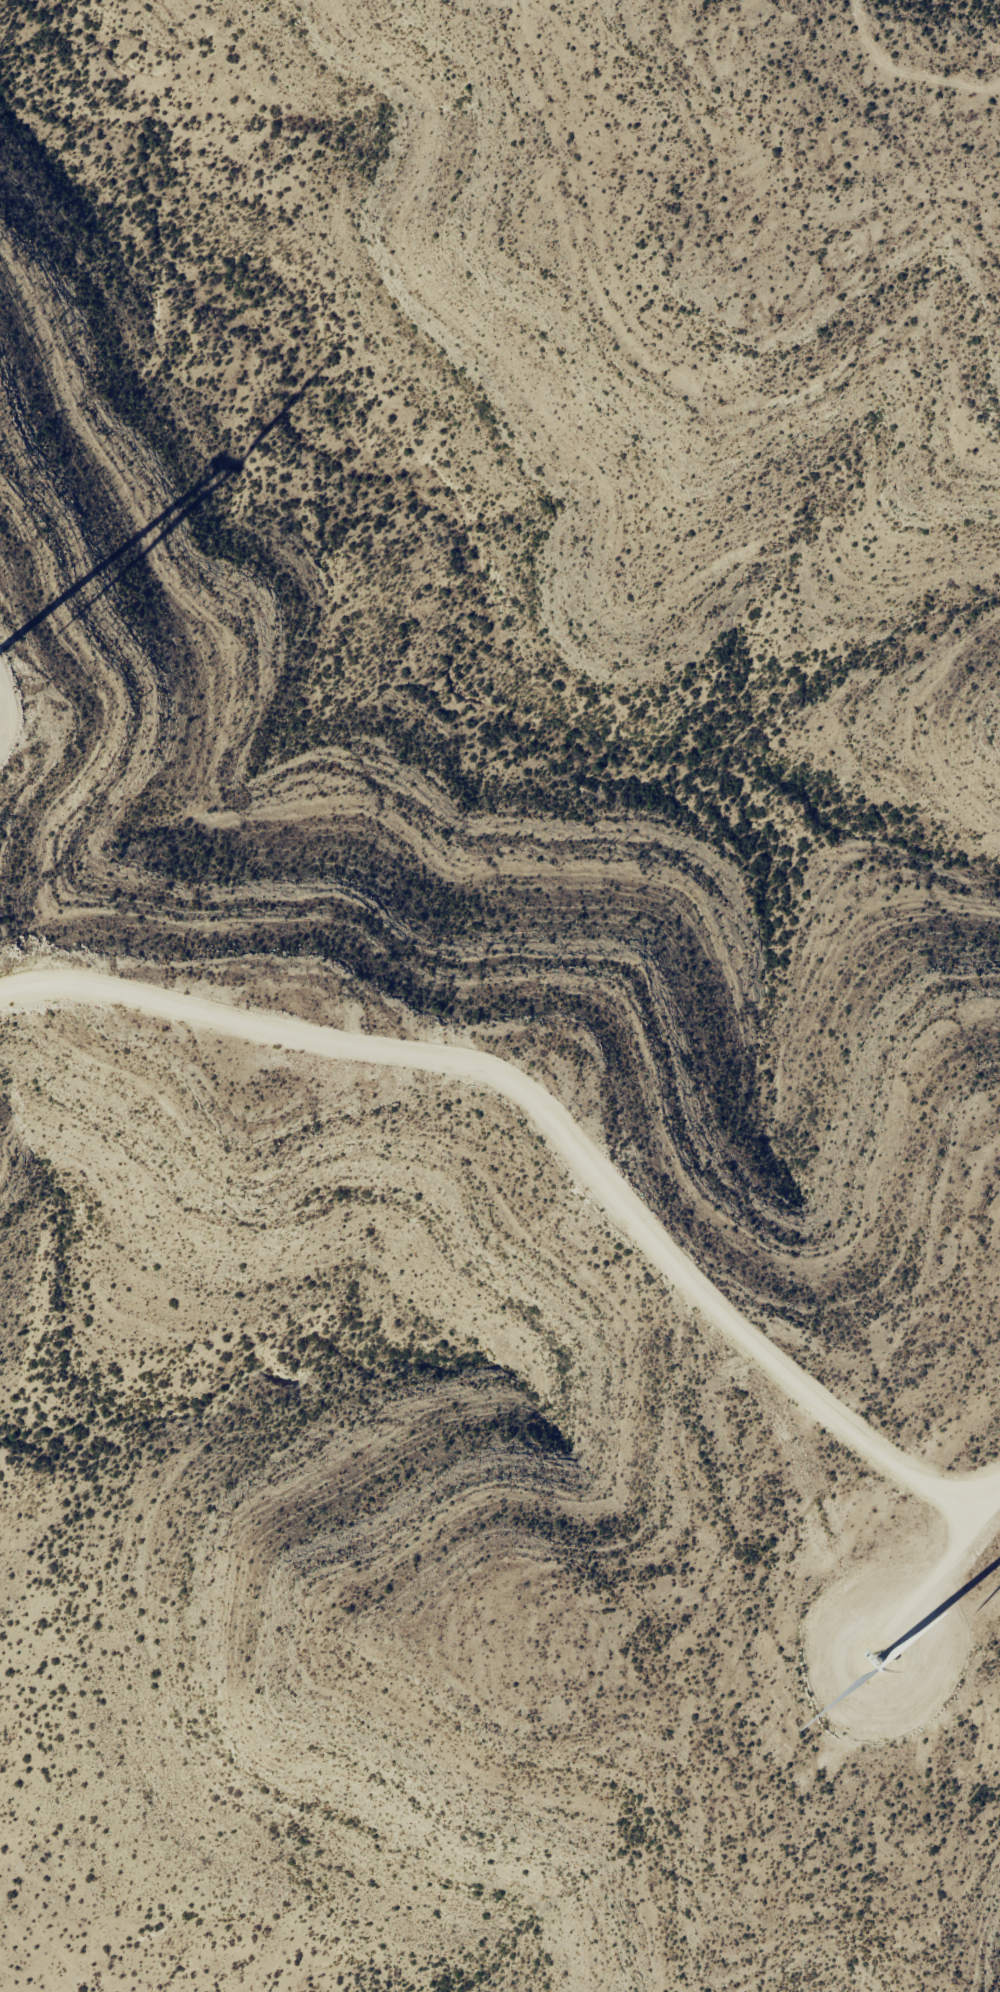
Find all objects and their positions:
wind turbine: (878, 1661)

